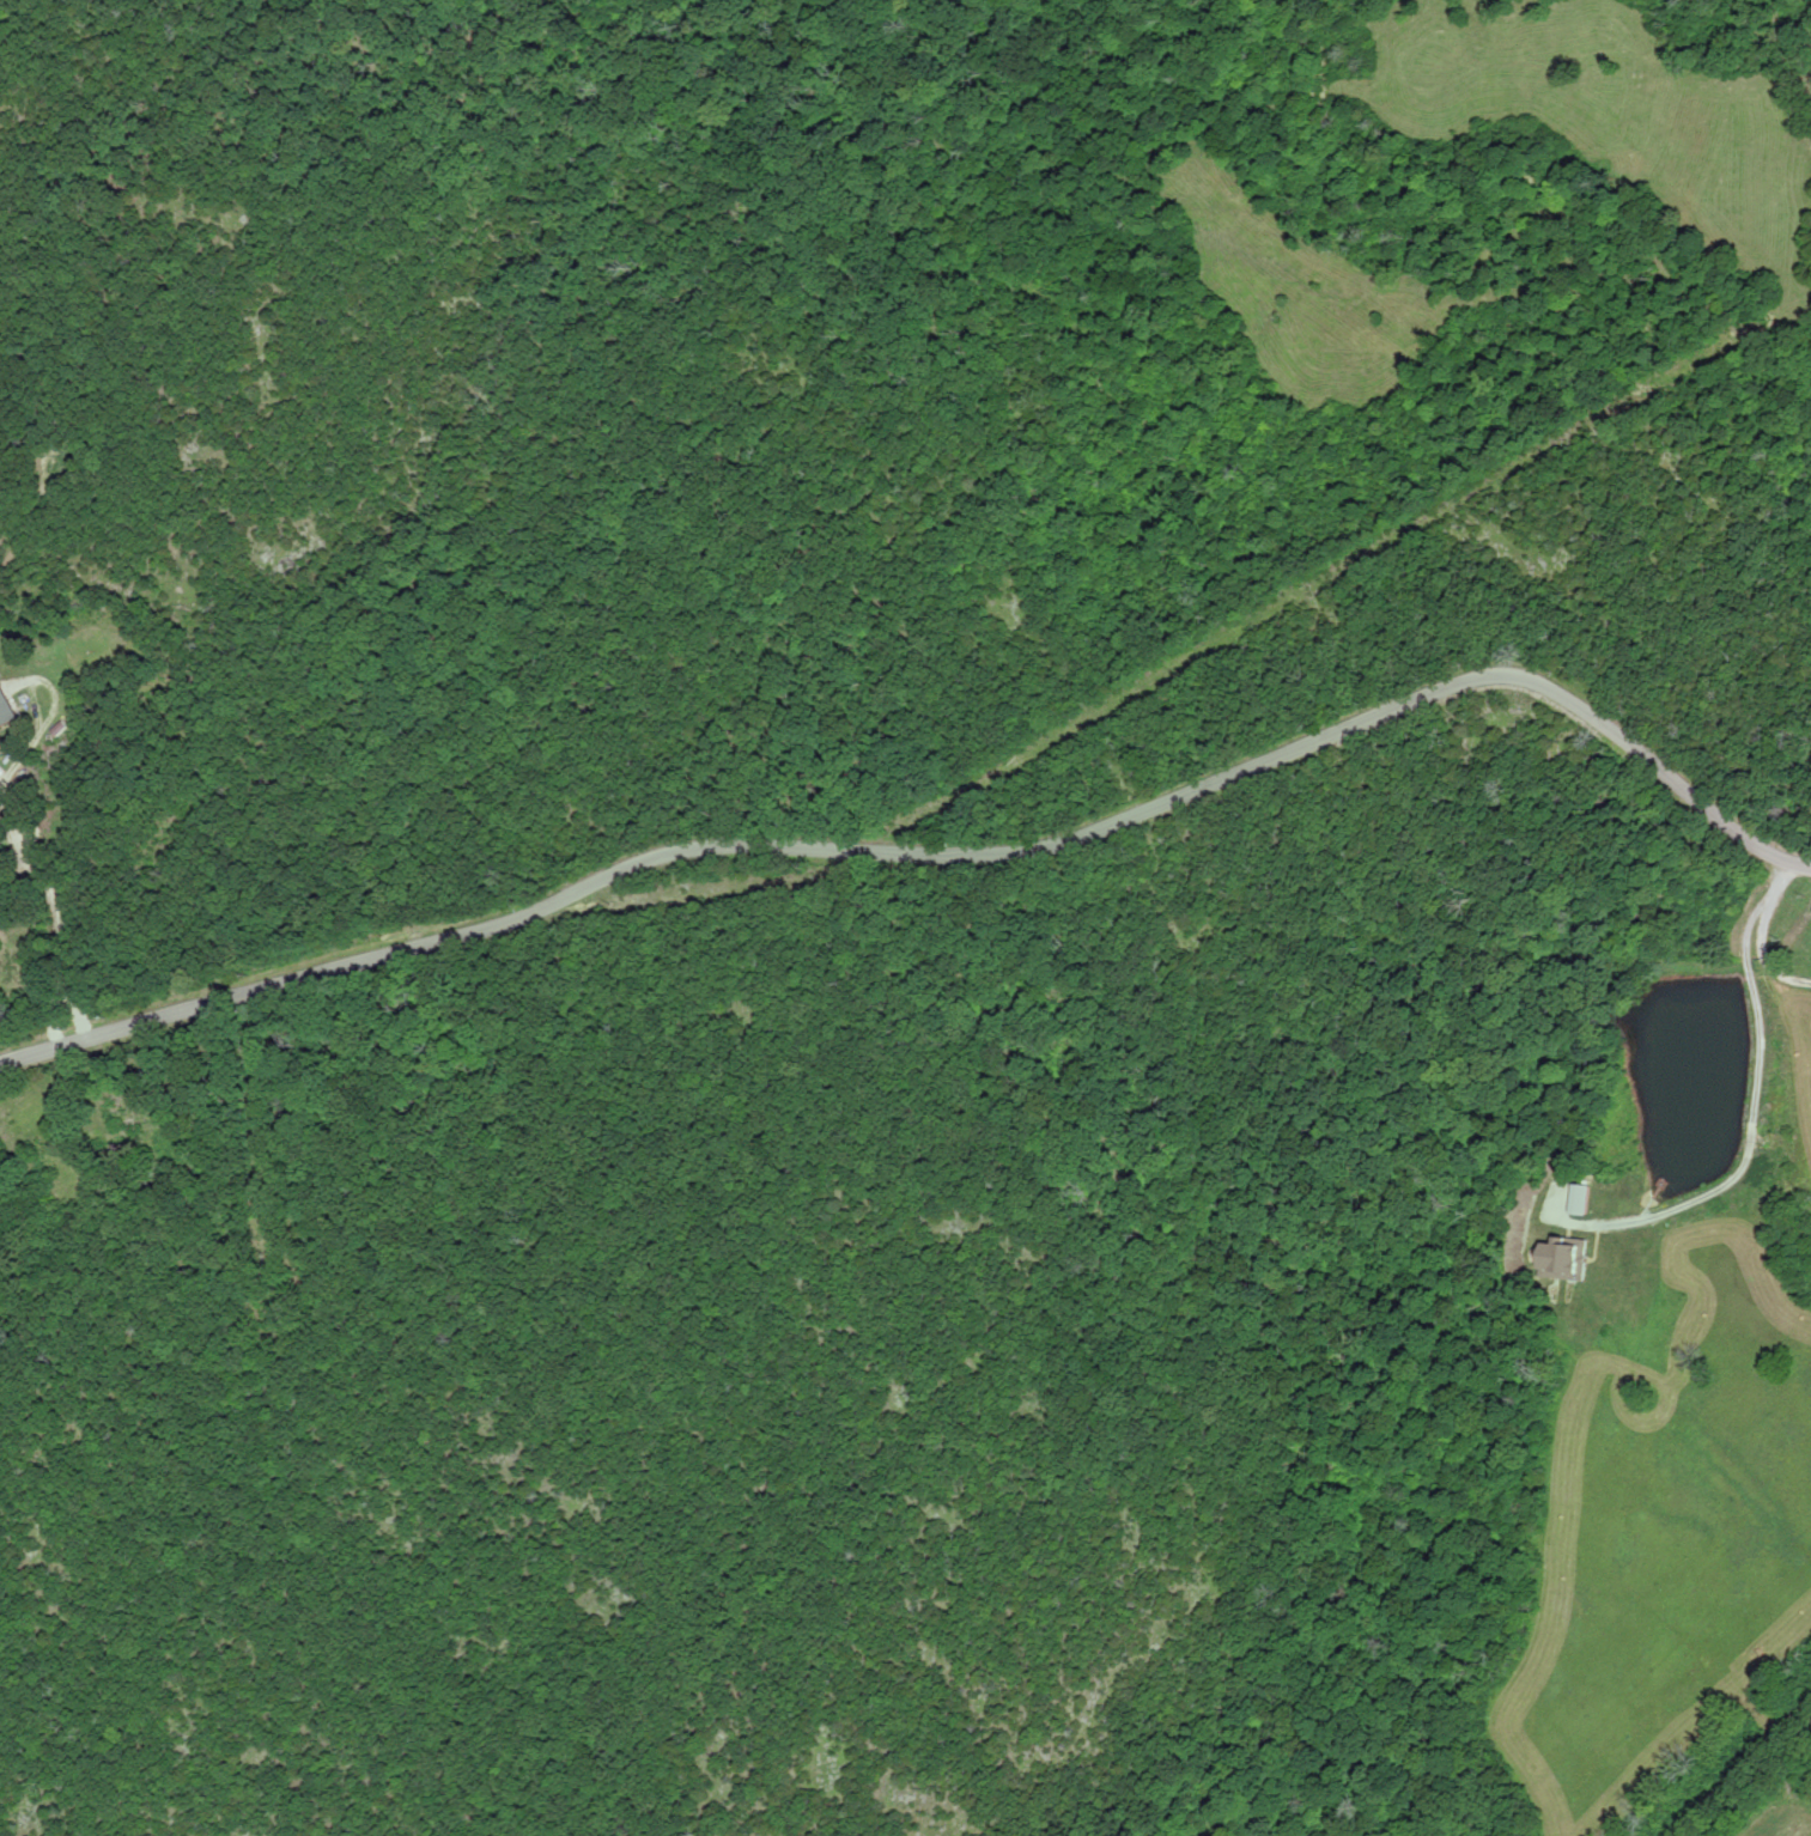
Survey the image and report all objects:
road: (32, 673)
building: (5, 709)
road: (17, 746)
road: (914, 811)
road: (54, 935)
building: (1580, 1200)
building: (1564, 1260)

